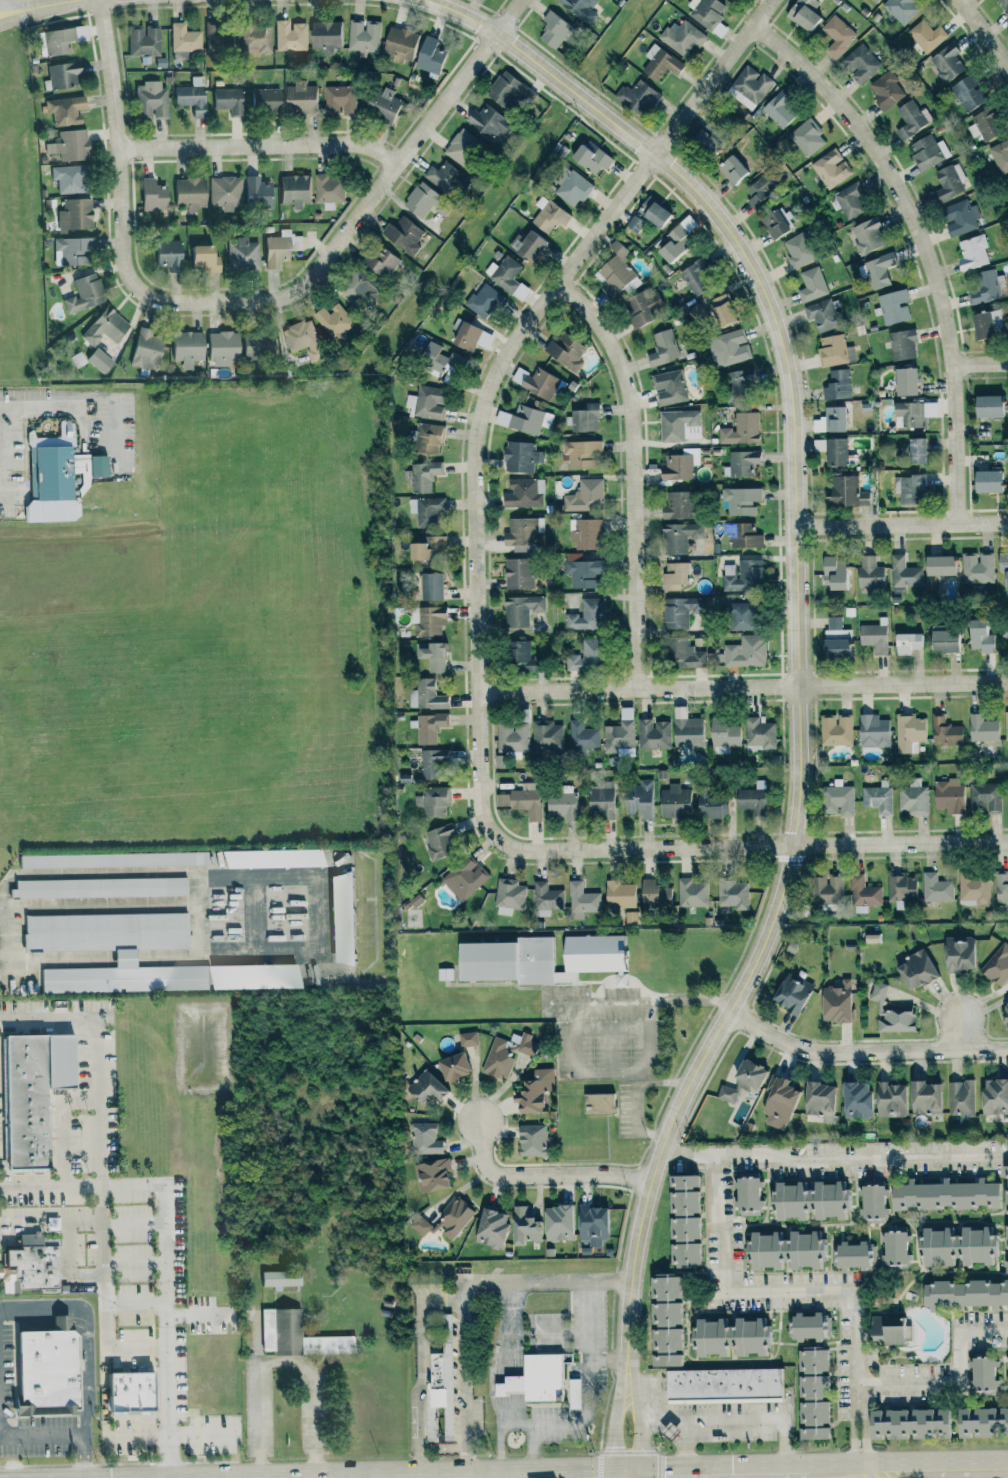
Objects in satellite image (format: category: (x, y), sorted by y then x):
building: (729, 1)
building: (875, 1)
road: (963, 2)
road: (57, 3)
road: (19, 6)
building: (1004, 6)
building: (579, 9)
building: (902, 9)
building: (706, 12)
building: (803, 14)
road: (20, 16)
building: (552, 30)
road: (984, 32)
building: (364, 35)
building: (837, 35)
building: (290, 36)
building: (324, 36)
building: (926, 36)
building: (682, 37)
building: (183, 38)
building: (142, 40)
building: (218, 40)
building: (255, 41)
building: (400, 44)
building: (429, 55)
building: (861, 62)
building: (659, 63)
building: (946, 63)
building: (63, 75)
building: (749, 87)
building: (885, 90)
building: (510, 92)
building: (967, 93)
building: (190, 97)
building: (637, 97)
building: (299, 99)
building: (149, 100)
building: (227, 100)
building: (339, 100)
building: (264, 101)
building: (381, 104)
building: (64, 110)
building: (778, 110)
building: (910, 119)
building: (486, 121)
building: (984, 125)
building: (807, 137)
building: (703, 142)
building: (68, 145)
road: (259, 147)
building: (463, 147)
building: (927, 151)
building: (1000, 156)
building: (590, 159)
building: (831, 168)
building: (732, 169)
building: (67, 178)
building: (447, 179)
building: (948, 183)
building: (1006, 184)
building: (571, 187)
building: (327, 188)
building: (293, 190)
building: (759, 191)
building: (255, 192)
building: (187, 193)
building: (224, 193)
building: (150, 195)
building: (420, 200)
building: (847, 201)
building: (73, 215)
building: (547, 215)
building: (648, 215)
building: (960, 217)
building: (777, 223)
building: (402, 235)
building: (868, 236)
building: (673, 244)
road: (921, 244)
building: (528, 247)
building: (280, 248)
building: (70, 251)
building: (798, 251)
building: (973, 252)
building: (164, 254)
building: (242, 254)
building: (198, 259)
building: (381, 262)
building: (617, 271)
building: (506, 277)
building: (694, 279)
building: (357, 285)
building: (812, 285)
building: (987, 287)
building: (83, 293)
road: (252, 302)
building: (484, 302)
building: (894, 306)
building: (643, 307)
building: (720, 309)
building: (822, 315)
building: (332, 321)
building: (988, 326)
building: (103, 327)
building: (470, 337)
building: (302, 339)
building: (255, 345)
building: (902, 345)
building: (185, 347)
building: (663, 348)
building: (728, 348)
building: (220, 349)
building: (834, 350)
building: (144, 351)
building: (565, 352)
building: (440, 359)
building: (98, 360)
road: (980, 364)
road: (489, 382)
building: (535, 382)
building: (904, 382)
building: (737, 383)
building: (837, 385)
building: (669, 387)
building: (425, 403)
road: (61, 407)
building: (986, 407)
building: (913, 414)
building: (584, 418)
building: (833, 419)
building: (680, 425)
building: (741, 429)
building: (427, 438)
building: (831, 451)
building: (915, 451)
building: (582, 454)
road: (5, 455)
building: (518, 457)
building: (743, 463)
building: (680, 465)
building: (95, 467)
building: (50, 473)
road: (631, 474)
building: (422, 476)
building: (985, 480)
building: (909, 488)
building: (521, 493)
building: (584, 496)
building: (740, 499)
building: (677, 505)
building: (426, 510)
road: (901, 525)
building: (524, 533)
building: (585, 533)
building: (744, 535)
building: (675, 538)
building: (424, 545)
building: (937, 564)
building: (976, 567)
building: (1001, 568)
building: (582, 570)
building: (833, 571)
building: (517, 572)
building: (869, 574)
building: (905, 574)
building: (741, 575)
building: (675, 576)
building: (430, 585)
building: (521, 609)
building: (677, 611)
building: (588, 614)
road: (797, 614)
building: (427, 620)
building: (1005, 630)
building: (979, 635)
building: (942, 640)
building: (906, 642)
building: (833, 648)
building: (746, 651)
building: (683, 653)
building: (519, 654)
building: (432, 655)
building: (585, 656)
road: (742, 687)
building: (426, 695)
building: (429, 726)
building: (1007, 727)
building: (686, 728)
building: (982, 728)
building: (835, 729)
building: (873, 731)
building: (944, 731)
building: (620, 732)
building: (759, 732)
building: (654, 733)
building: (909, 733)
building: (722, 734)
building: (511, 736)
building: (546, 736)
building: (582, 737)
building: (432, 762)
building: (948, 795)
building: (1007, 795)
building: (878, 797)
building: (914, 797)
building: (985, 797)
building: (521, 799)
building: (638, 799)
building: (432, 800)
building: (750, 800)
building: (836, 800)
building: (560, 801)
building: (600, 801)
building: (673, 802)
building: (710, 805)
building: (439, 842)
road: (754, 846)
building: (269, 858)
building: (111, 860)
road: (246, 877)
building: (464, 877)
building: (97, 887)
building: (901, 887)
building: (936, 887)
building: (1001, 887)
building: (974, 888)
building: (826, 889)
building: (863, 892)
building: (653, 893)
building: (692, 893)
building: (732, 893)
building: (619, 894)
building: (508, 896)
building: (546, 898)
building: (582, 900)
road: (196, 917)
building: (340, 918)
building: (871, 938)
building: (957, 953)
road: (57, 956)
road: (125, 956)
building: (122, 957)
building: (539, 958)
building: (997, 965)
building: (914, 970)
building: (790, 992)
road: (635, 1002)
building: (836, 1003)
building: (1005, 1015)
road: (57, 1019)
road: (610, 1028)
road: (957, 1033)
building: (467, 1039)
road: (611, 1051)
road: (863, 1053)
building: (496, 1060)
building: (451, 1066)
road: (610, 1074)
building: (741, 1080)
building: (425, 1087)
building: (533, 1091)
building: (29, 1094)
building: (994, 1096)
road: (635, 1097)
building: (924, 1097)
building: (960, 1097)
building: (890, 1098)
building: (855, 1099)
building: (818, 1100)
building: (777, 1102)
building: (597, 1103)
building: (423, 1138)
building: (531, 1139)
road: (62, 1140)
road: (832, 1158)
building: (431, 1174)
road: (539, 1176)
road: (100, 1183)
building: (746, 1194)
building: (943, 1195)
building: (808, 1200)
building: (871, 1201)
building: (1005, 1216)
building: (681, 1220)
building: (444, 1221)
road: (82, 1223)
building: (556, 1223)
building: (591, 1224)
building: (523, 1226)
building: (490, 1227)
building: (955, 1246)
building: (893, 1248)
road: (164, 1249)
building: (783, 1250)
building: (849, 1255)
road: (134, 1263)
building: (27, 1267)
road: (67, 1267)
building: (277, 1278)
road: (545, 1282)
road: (809, 1292)
road: (461, 1293)
building: (964, 1293)
road: (135, 1300)
road: (202, 1313)
road: (45, 1320)
building: (663, 1321)
building: (804, 1326)
road: (88, 1329)
building: (279, 1330)
building: (884, 1330)
road: (559, 1334)
building: (729, 1335)
building: (340, 1344)
road: (135, 1347)
road: (507, 1354)
road: (281, 1360)
road: (607, 1360)
road: (419, 1369)
building: (1007, 1371)
building: (43, 1373)
building: (981, 1373)
building: (534, 1378)
road: (956, 1380)
building: (721, 1384)
road: (462, 1390)
building: (125, 1392)
building: (573, 1394)
building: (810, 1395)
road: (738, 1420)
road: (584, 1422)
building: (981, 1422)
road: (618, 1423)
road: (638, 1423)
building: (906, 1423)
road: (172, 1433)
road: (41, 1434)
road: (441, 1449)
road: (685, 1449)
road: (531, 1451)
road: (84, 1456)
road: (907, 1475)
road: (796, 1477)

